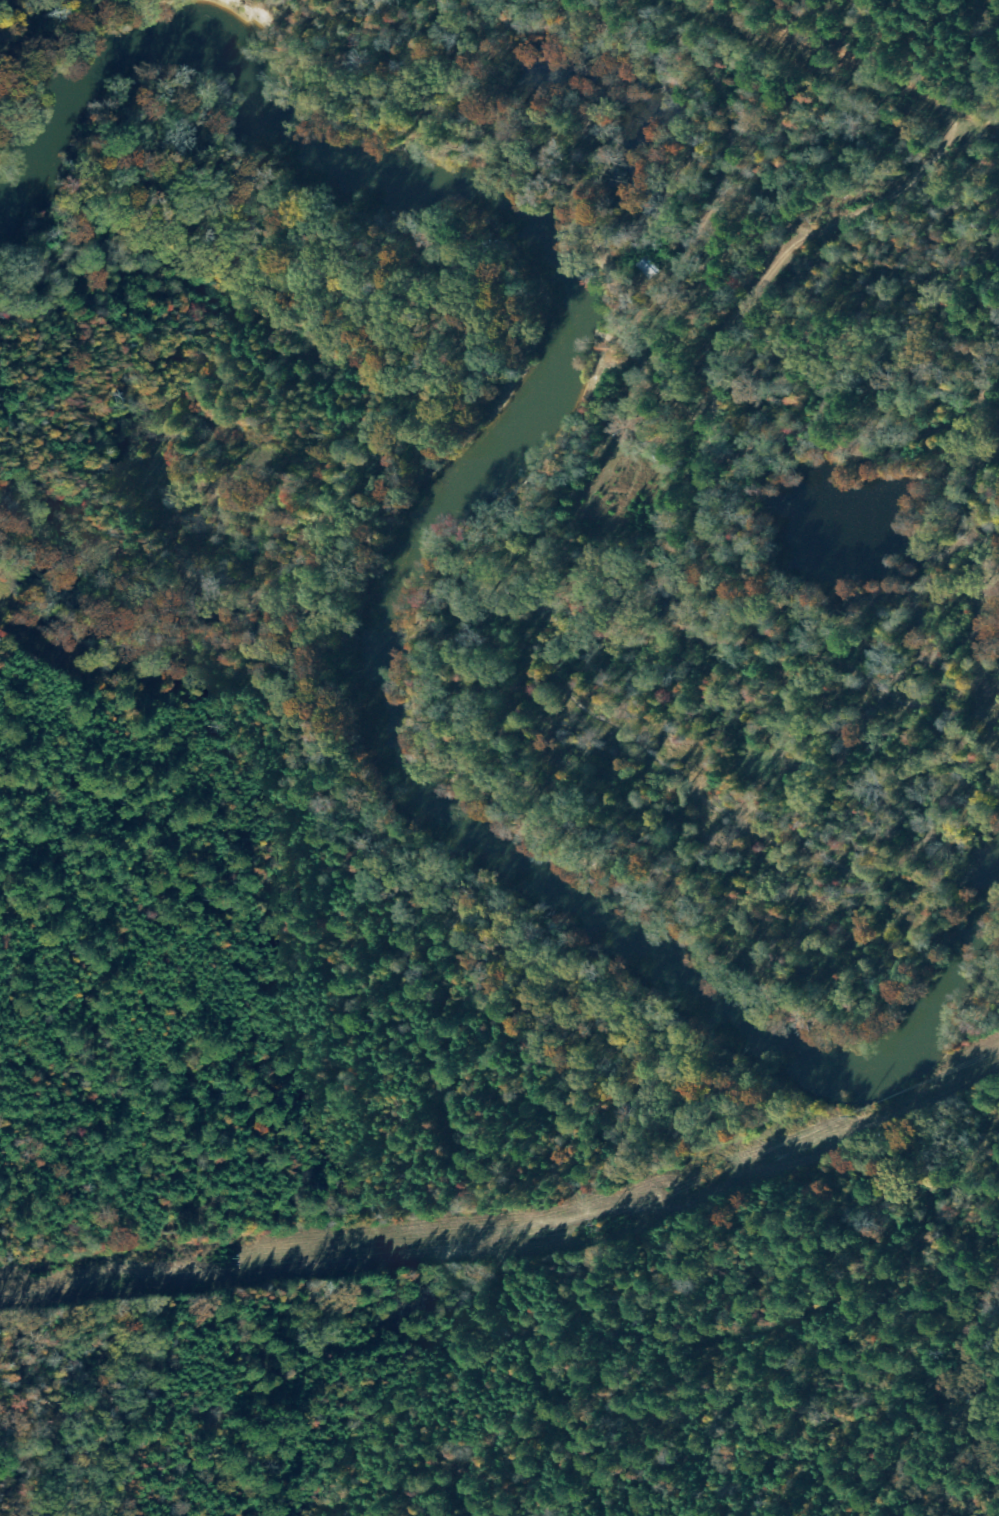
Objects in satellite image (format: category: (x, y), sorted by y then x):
road: (807, 69)
road: (710, 419)
river: (418, 534)
power tower: (609, 1224)

